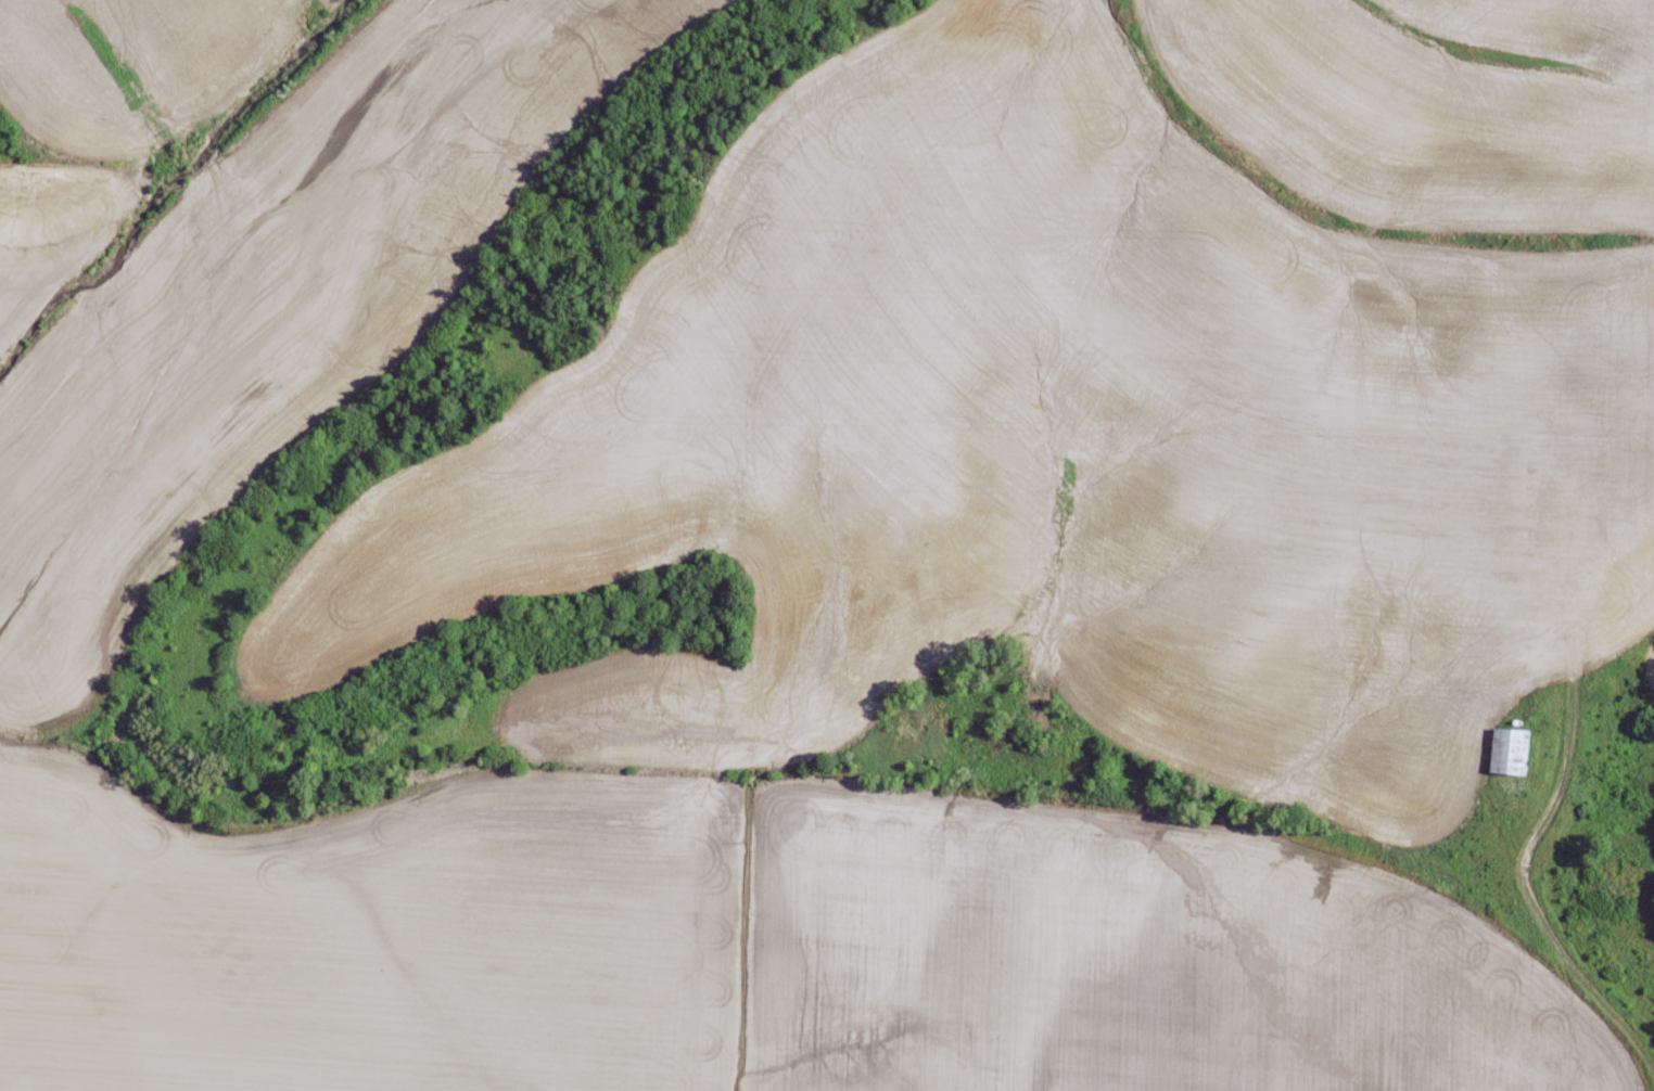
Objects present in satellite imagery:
road: (1525, 640)
road: (788, 745)
building: (1515, 752)

